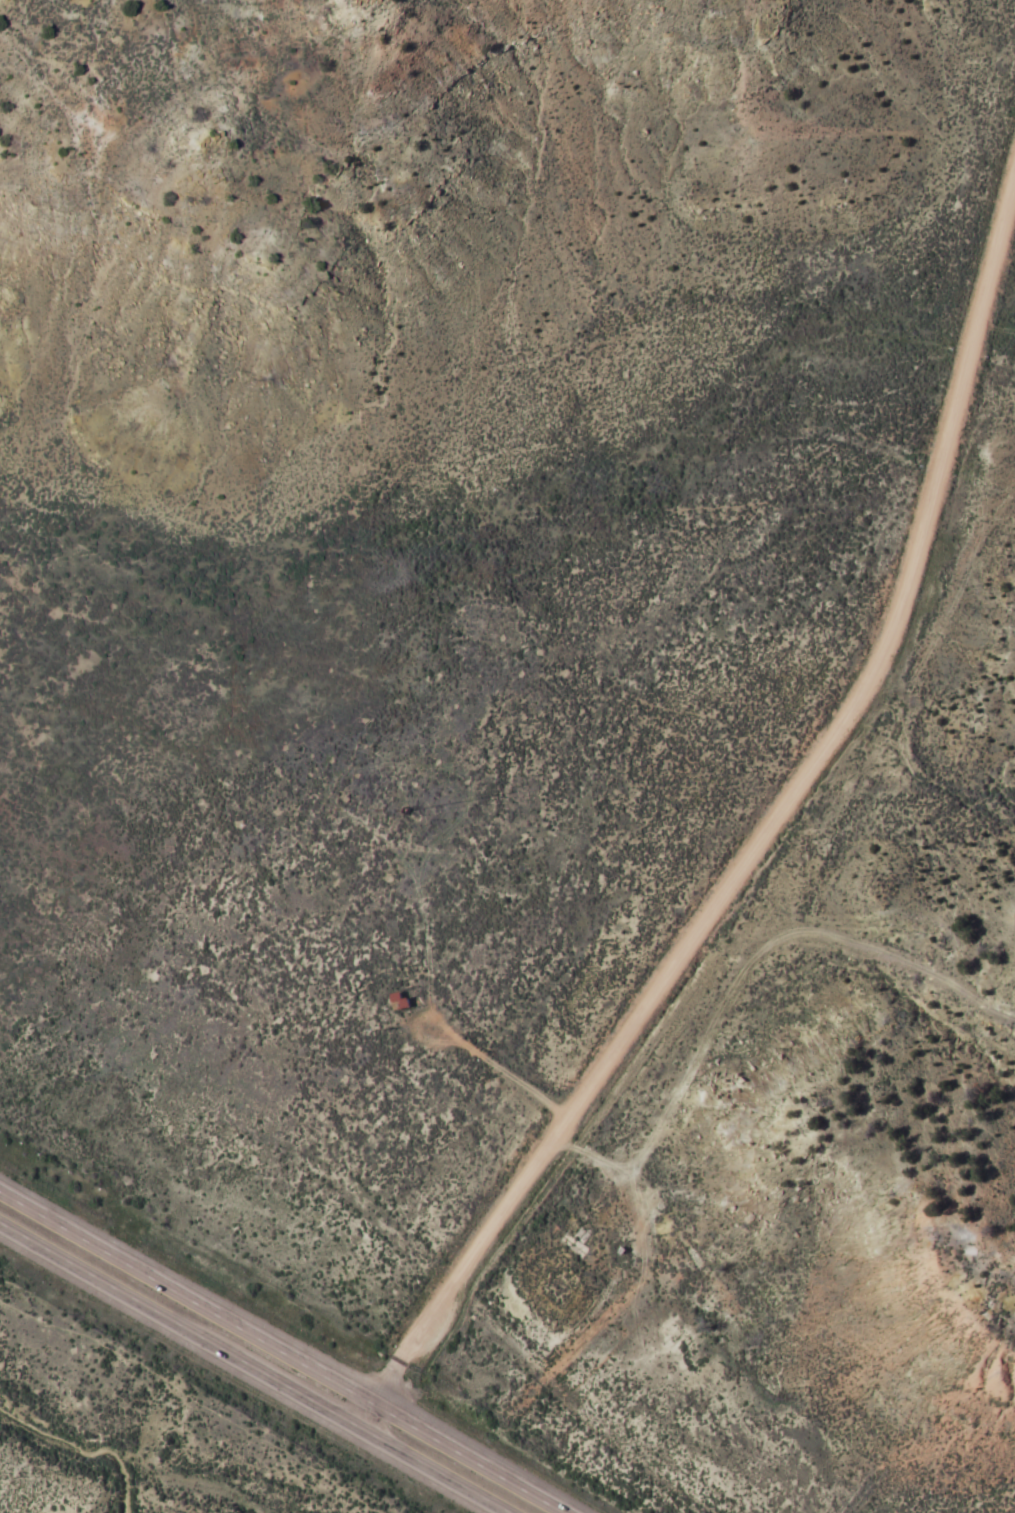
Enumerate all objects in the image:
road: (761, 848)
building: (401, 1001)
road: (283, 1351)
road: (253, 1368)

